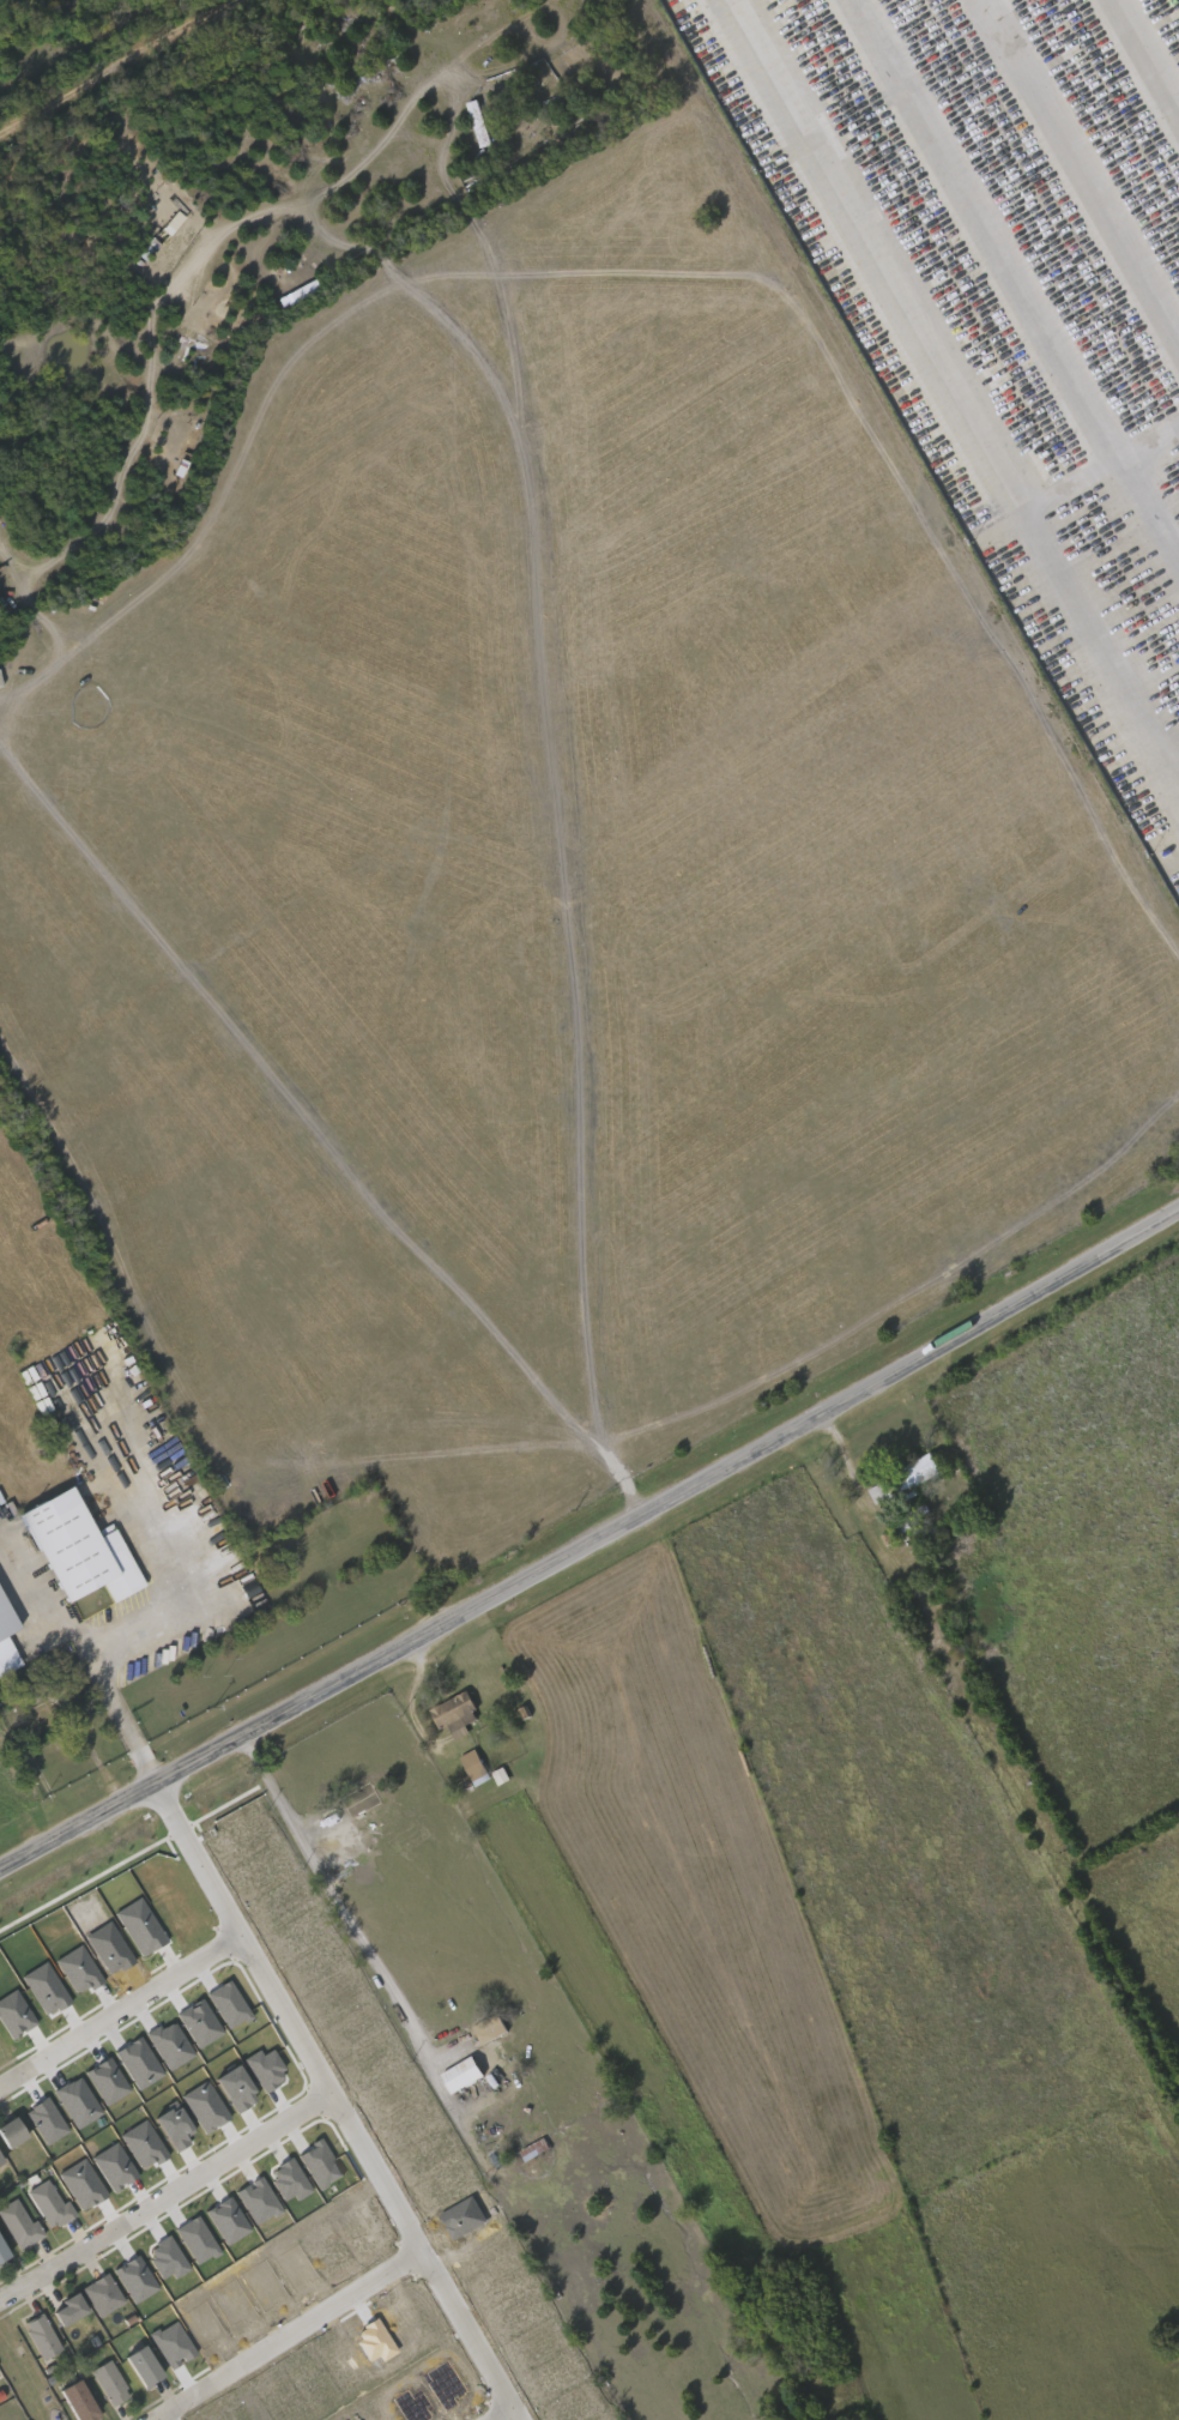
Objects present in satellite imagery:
road: (115, 66)
building: (477, 121)
road: (452, 127)
road: (181, 350)
building: (902, 358)
road: (955, 386)
road: (846, 1465)
building: (902, 1479)
road: (591, 1544)
building: (73, 1549)
building: (5, 1643)
road: (107, 1682)
building: (453, 1712)
building: (472, 1767)
road: (335, 1909)
building: (140, 1927)
building: (79, 1971)
building: (46, 1990)
road: (119, 2005)
building: (228, 2005)
building: (14, 2015)
building: (200, 2024)
building: (489, 2027)
building: (170, 2046)
building: (139, 2064)
building: (461, 2076)
building: (107, 2082)
building: (78, 2104)
road: (333, 2104)
building: (46, 2122)
building: (8, 2129)
building: (534, 2148)
building: (0, 2161)
building: (83, 2186)
road: (163, 2190)
building: (50, 2205)
building: (19, 2226)
building: (1, 2252)
building: (103, 2295)
building: (69, 2310)
building: (40, 2334)
road: (283, 2334)
building: (139, 2364)
building: (108, 2380)
building: (74, 2400)
road: (497, 2413)
road: (158, 2418)

